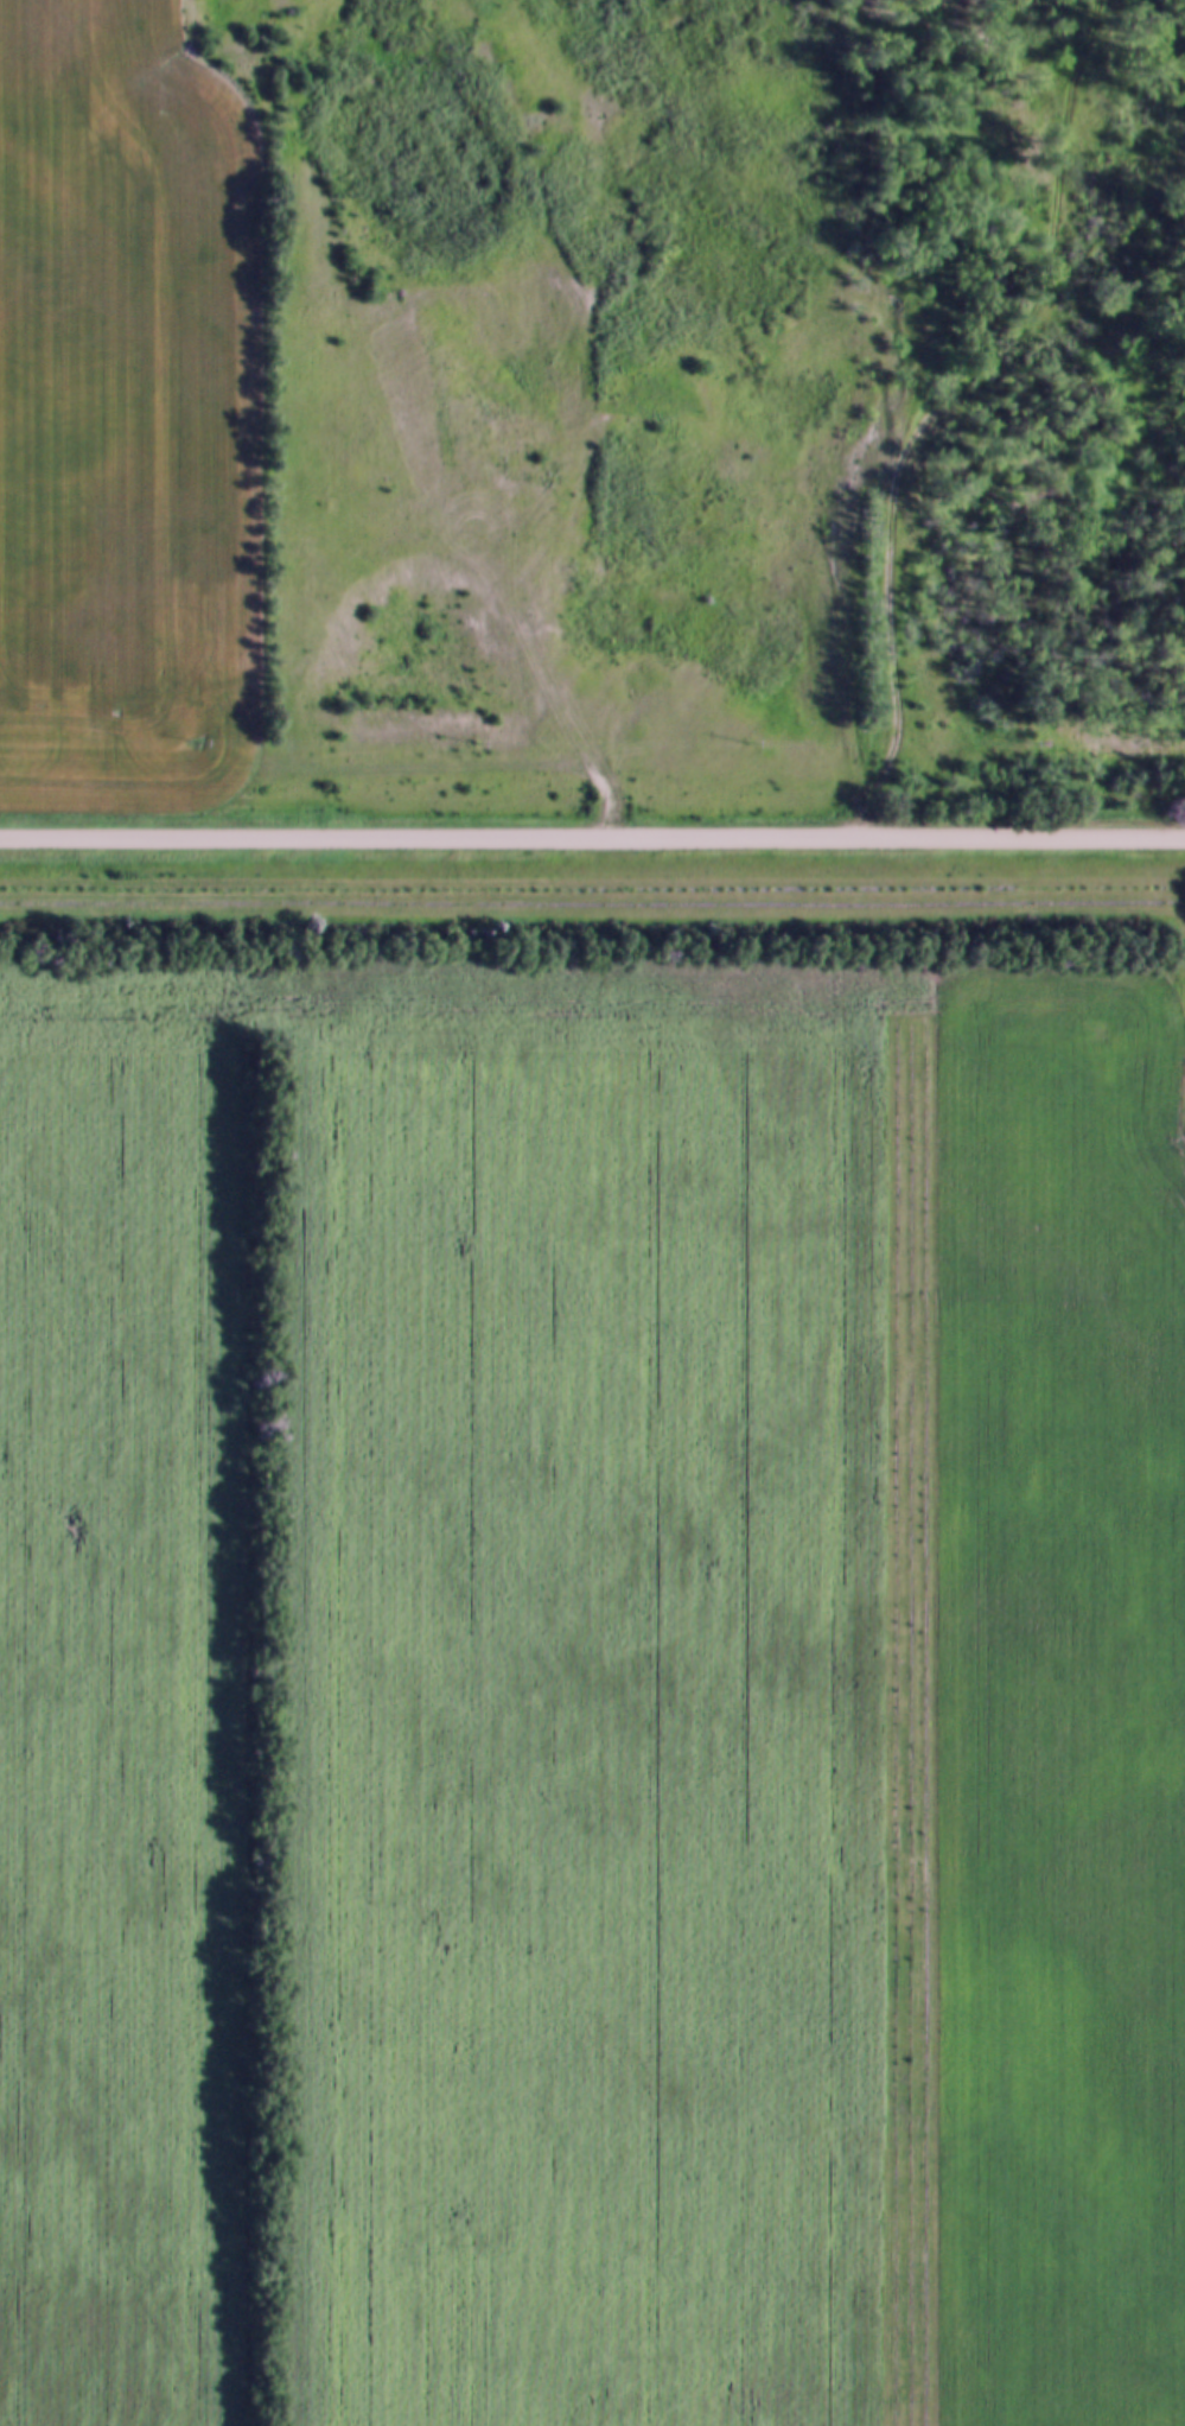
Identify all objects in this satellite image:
road: (935, 407)
road: (592, 839)

